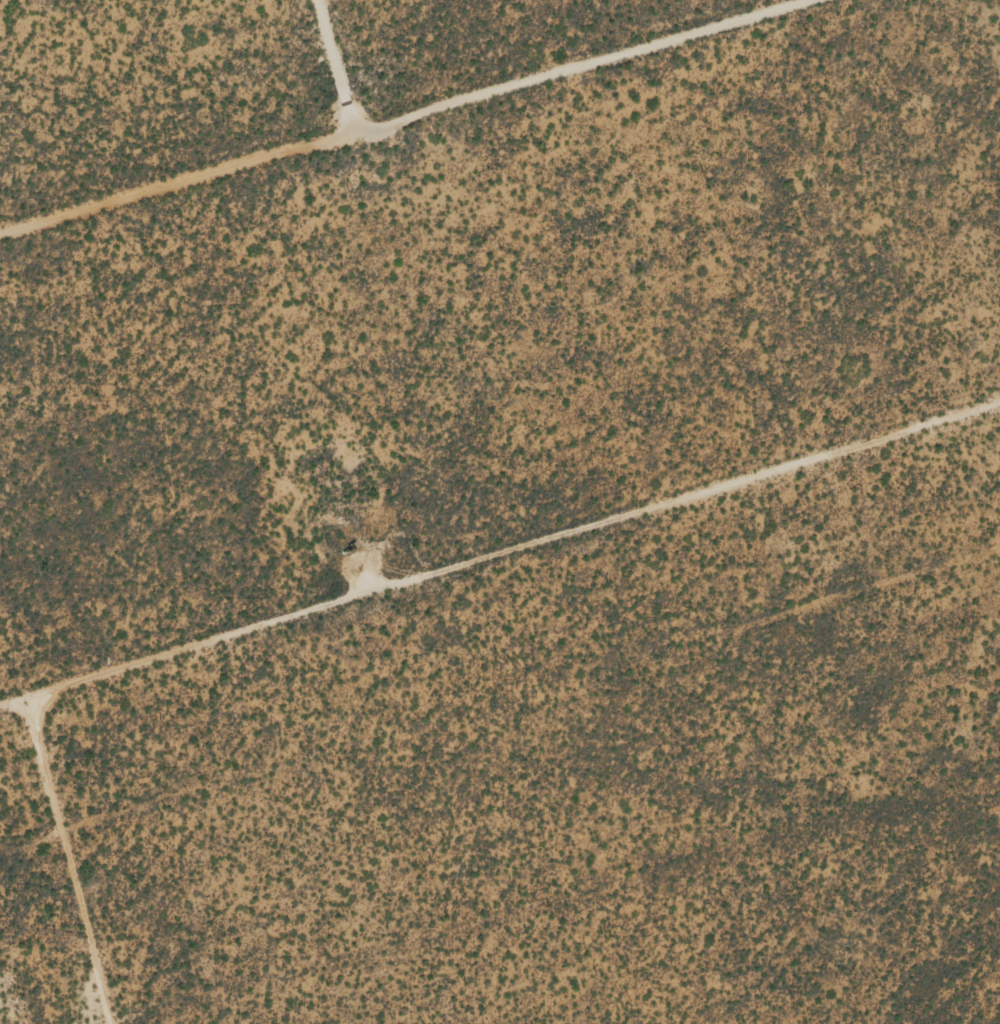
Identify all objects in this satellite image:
road: (392, 111)
road: (499, 555)
road: (86, 858)

